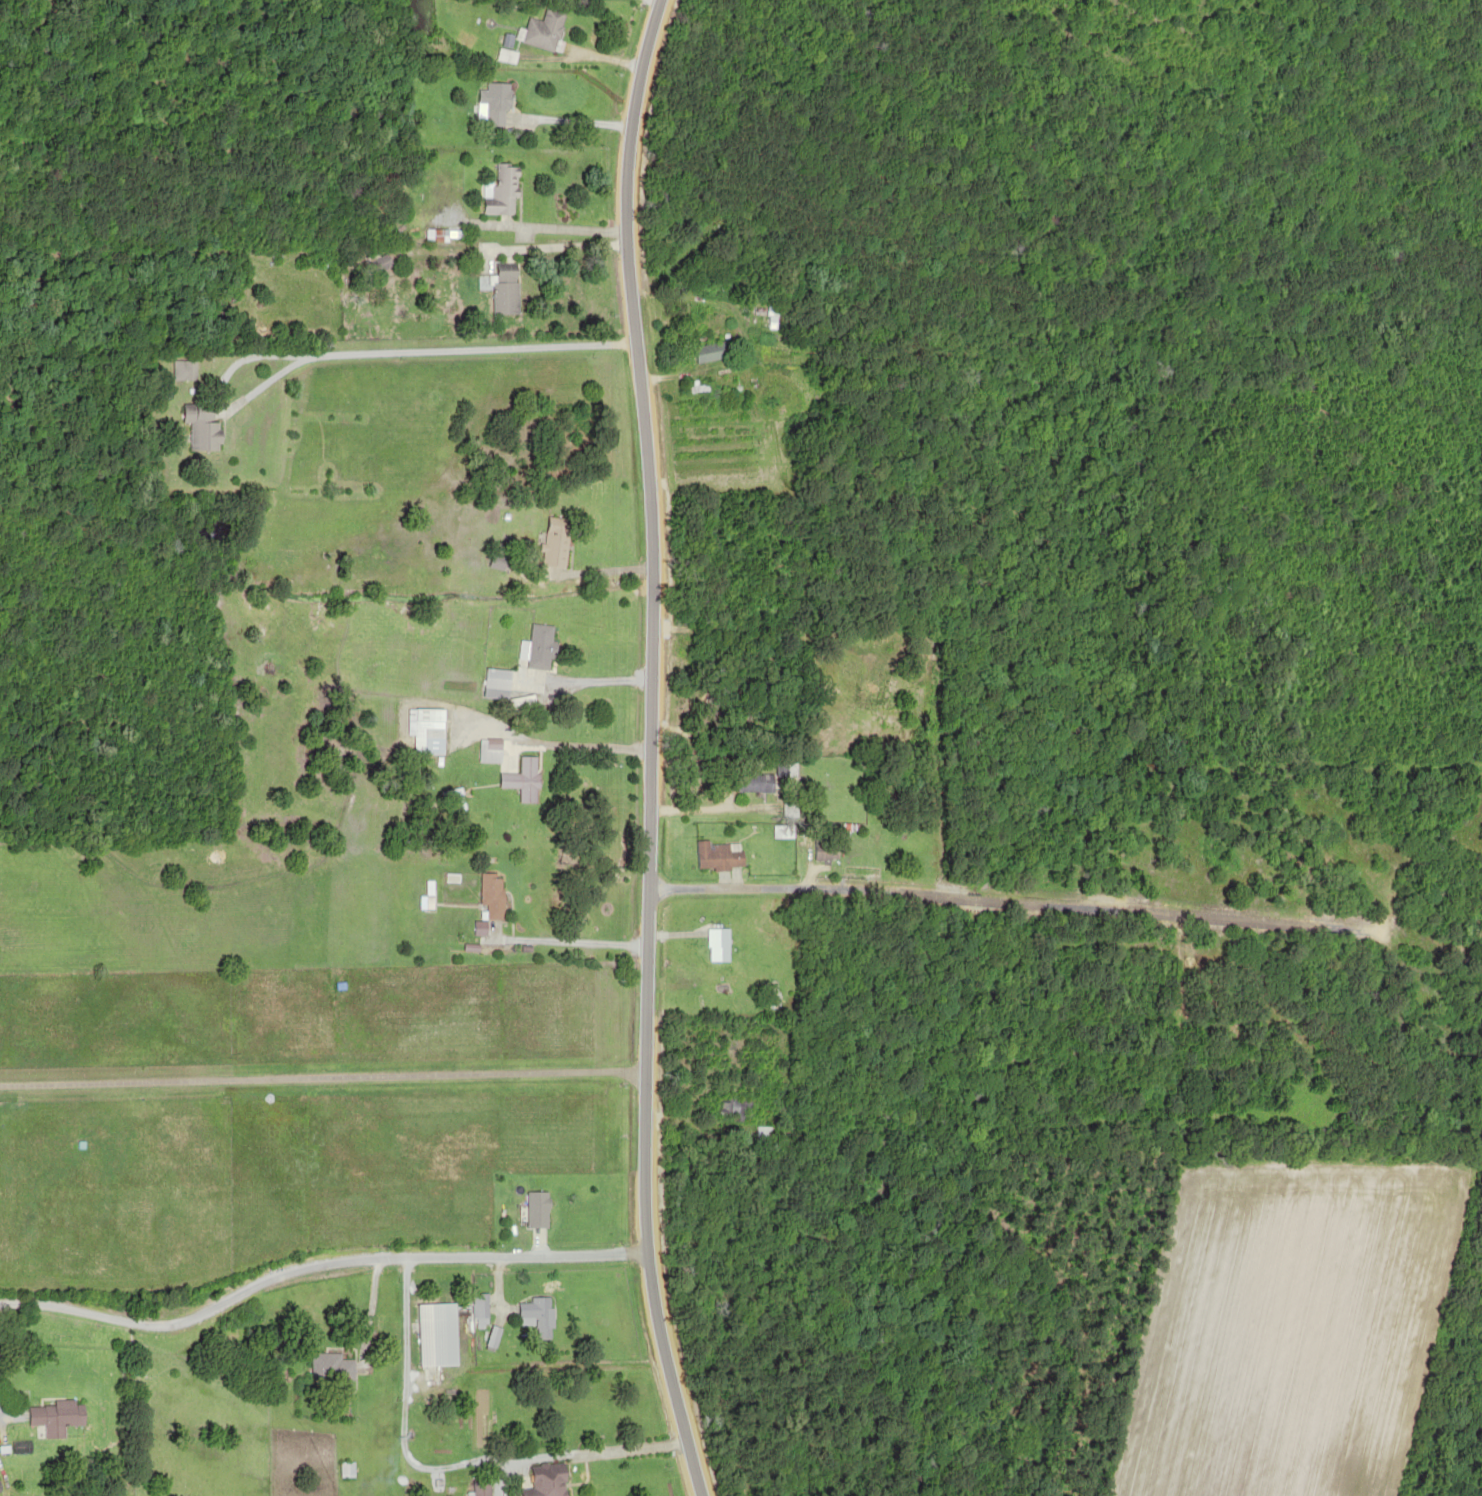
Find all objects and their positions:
building: (539, 28)
building: (488, 103)
building: (496, 191)
building: (439, 234)
building: (376, 263)
building: (502, 288)
building: (767, 315)
building: (708, 351)
building: (785, 357)
building: (183, 370)
building: (200, 427)
building: (553, 546)
building: (539, 646)
building: (495, 679)
building: (426, 731)
building: (489, 749)
road: (644, 750)
building: (781, 770)
building: (521, 779)
building: (752, 783)
building: (821, 850)
building: (714, 857)
road: (996, 894)
building: (489, 896)
building: (714, 945)
road: (337, 1058)
building: (730, 1108)
building: (758, 1133)
building: (533, 1209)
road: (309, 1258)
building: (477, 1308)
building: (534, 1315)
building: (432, 1333)
building: (330, 1372)
building: (55, 1416)
building: (345, 1469)
building: (543, 1480)
building: (479, 1487)

